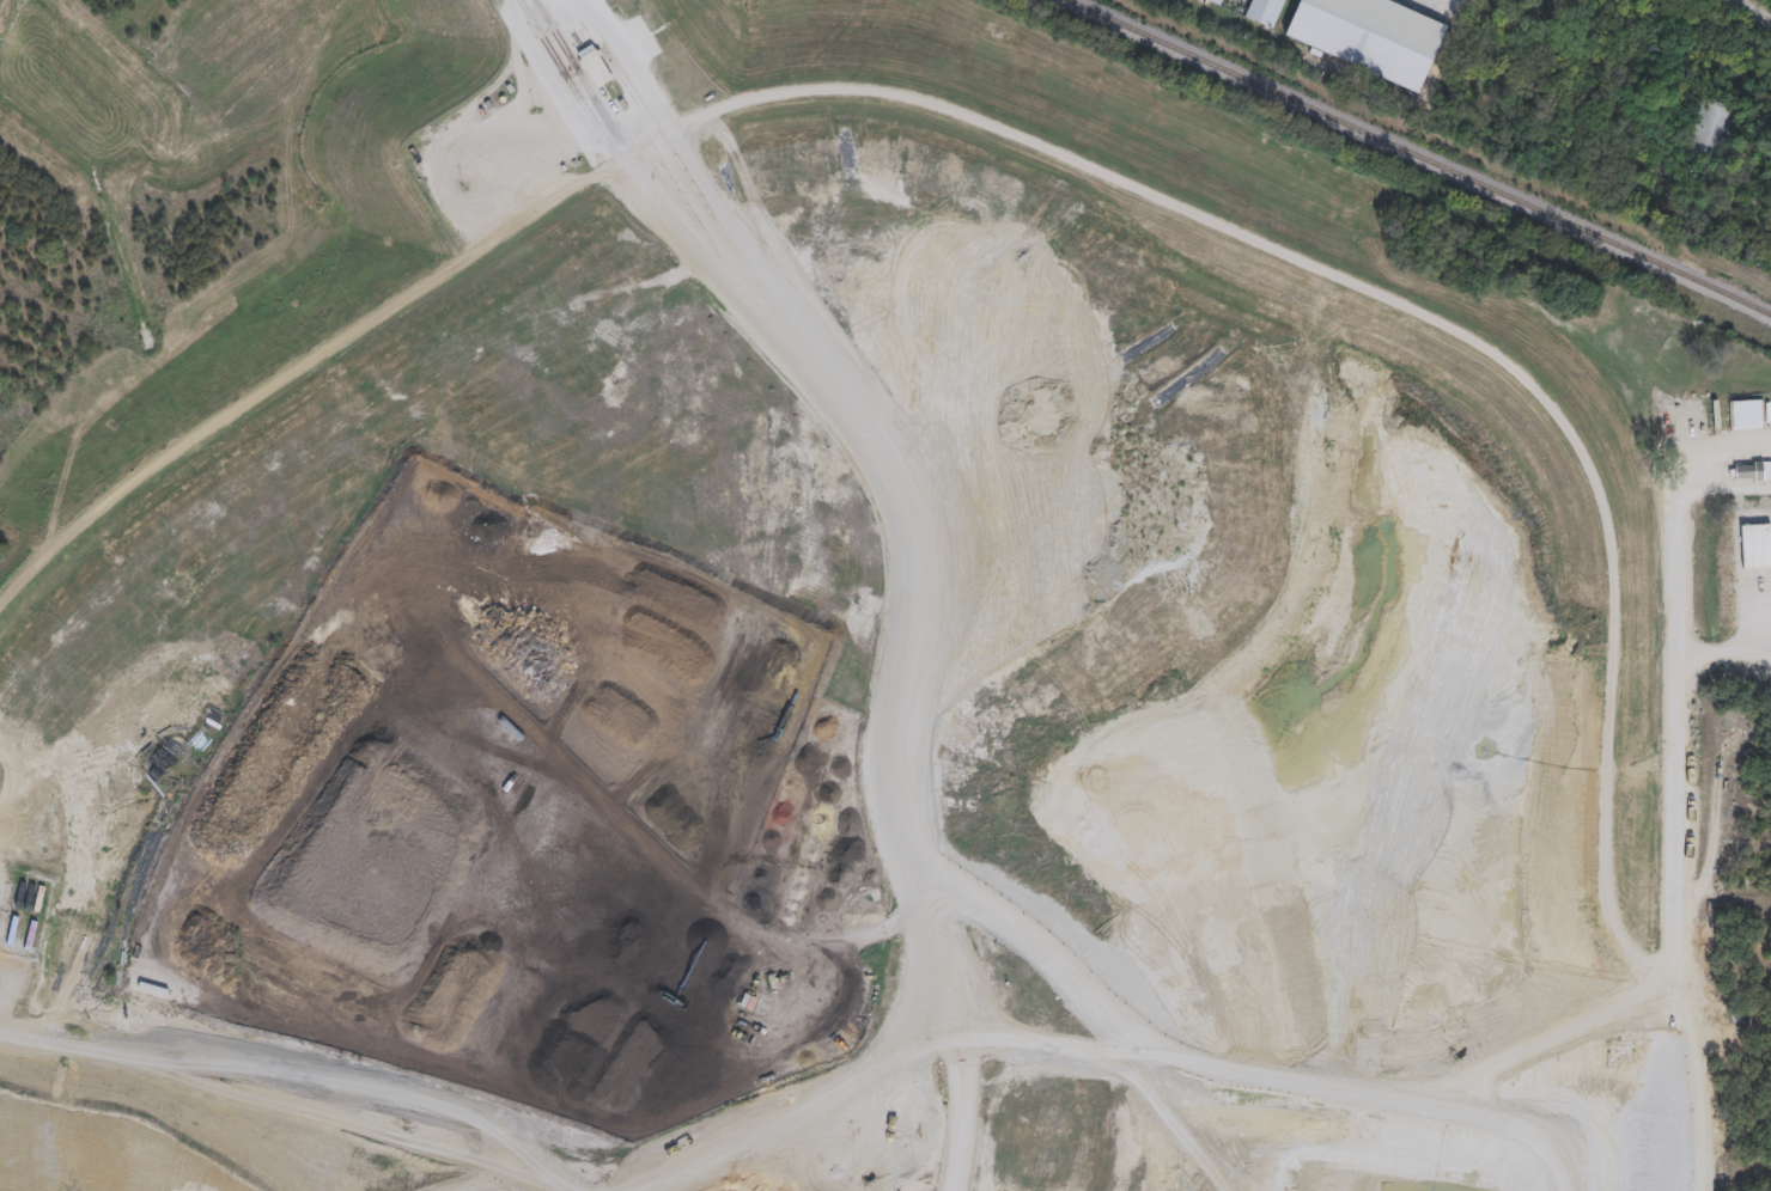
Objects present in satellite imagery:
building: (1218, 1)
building: (1266, 11)
road: (1752, 12)
building: (1370, 35)
building: (596, 69)
road: (574, 74)
building: (1711, 127)
railway: (1420, 154)
building: (1747, 471)
road: (1726, 487)
road: (1674, 562)
landfill: (839, 631)

